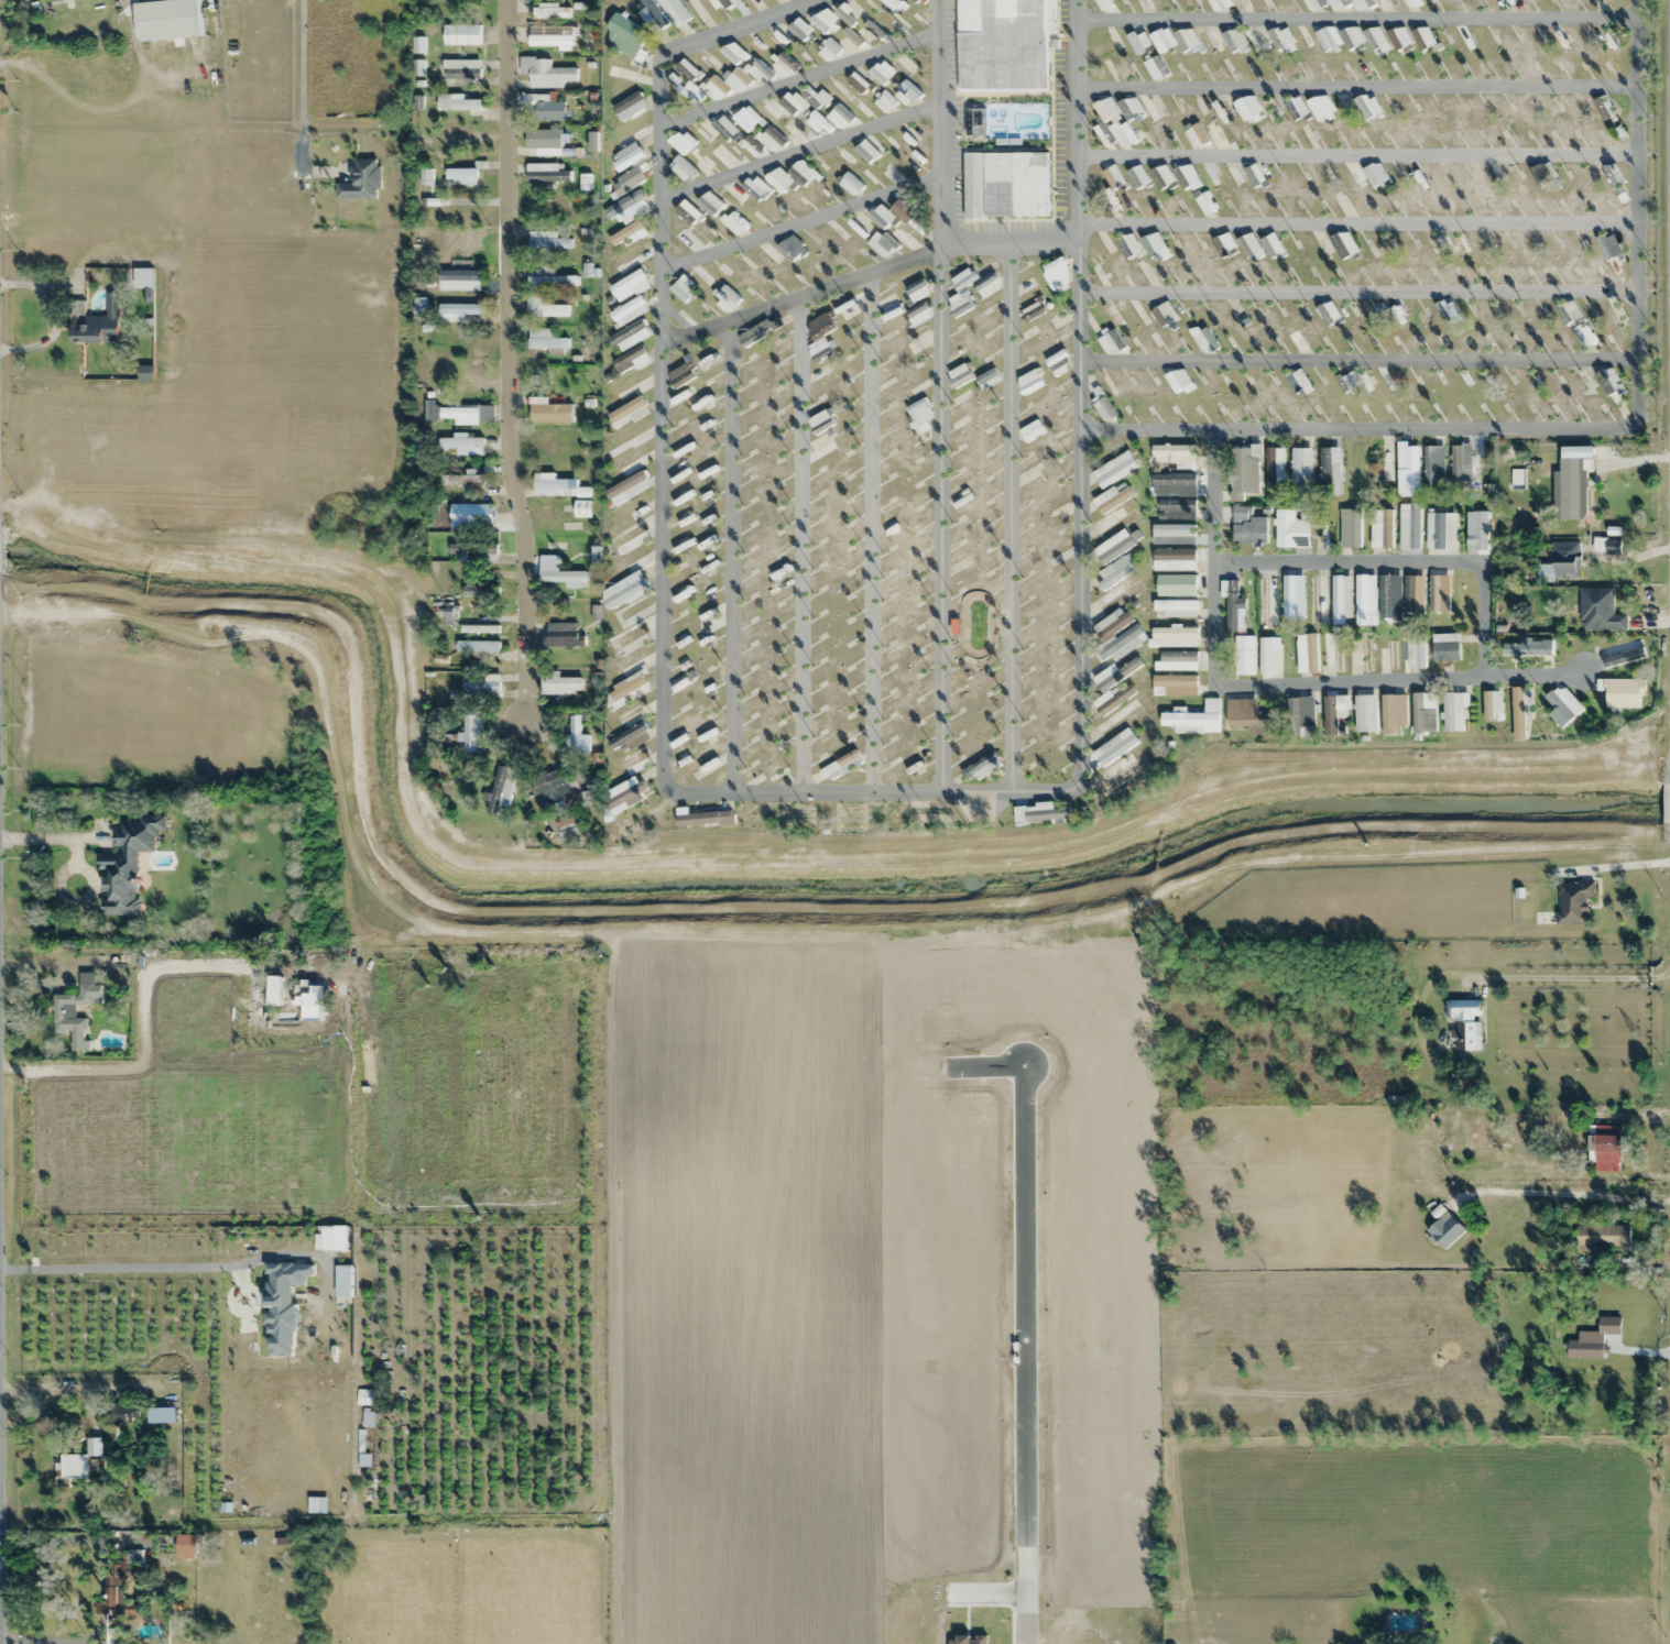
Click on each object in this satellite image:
building: (64, 0)
building: (727, 3)
building: (895, 3)
building: (1150, 3)
building: (1269, 3)
building: (1411, 3)
building: (1104, 4)
building: (1219, 4)
building: (1246, 4)
building: (1313, 4)
building: (1349, 4)
building: (1385, 4)
building: (703, 6)
building: (870, 8)
building: (550, 11)
building: (652, 15)
road: (1356, 15)
building: (167, 19)
building: (823, 22)
road: (741, 26)
building: (799, 29)
building: (874, 32)
building: (461, 34)
building: (552, 35)
building: (626, 35)
building: (777, 36)
building: (1351, 36)
building: (1400, 36)
building: (1210, 37)
building: (1256, 37)
building: (1423, 37)
building: (1290, 39)
building: (1375, 39)
building: (1163, 40)
building: (1190, 40)
building: (1324, 40)
building: (1134, 41)
building: (1234, 41)
building: (850, 42)
building: (1003, 45)
building: (755, 46)
building: (828, 50)
building: (733, 52)
building: (786, 63)
building: (903, 65)
building: (460, 68)
building: (620, 68)
building: (1156, 68)
building: (545, 73)
building: (878, 74)
road: (800, 78)
building: (735, 81)
building: (856, 81)
road: (1356, 86)
building: (713, 89)
building: (906, 95)
building: (821, 96)
building: (794, 100)
building: (456, 101)
building: (885, 101)
building: (629, 106)
building: (1366, 106)
building: (861, 107)
building: (1296, 107)
building: (1105, 108)
building: (1131, 108)
building: (1194, 108)
building: (1222, 108)
building: (1248, 108)
building: (548, 109)
building: (774, 109)
building: (1271, 109)
building: (1319, 109)
building: (750, 116)
building: (840, 117)
building: (817, 123)
building: (702, 132)
building: (1123, 135)
building: (1219, 135)
building: (1193, 136)
building: (544, 139)
building: (771, 140)
building: (680, 143)
building: (629, 144)
road: (801, 150)
building: (866, 151)
building: (725, 154)
road: (1357, 156)
building: (706, 161)
building: (681, 169)
building: (806, 171)
building: (546, 173)
building: (1542, 173)
building: (1613, 173)
building: (1186, 174)
building: (1352, 174)
building: (1376, 174)
building: (1493, 174)
building: (1163, 175)
building: (1232, 175)
building: (1255, 175)
building: (1137, 176)
building: (1207, 176)
building: (424, 177)
building: (461, 177)
building: (1325, 177)
building: (778, 179)
building: (361, 180)
building: (627, 180)
building: (585, 182)
building: (850, 184)
building: (1005, 185)
building: (755, 187)
building: (732, 194)
building: (710, 204)
building: (1204, 204)
building: (626, 208)
building: (902, 210)
building: (686, 211)
building: (881, 216)
road: (1636, 216)
road: (801, 221)
road: (1357, 221)
building: (733, 223)
building: (625, 234)
building: (905, 235)
building: (549, 239)
building: (690, 241)
building: (1226, 241)
building: (1156, 242)
building: (881, 243)
building: (1343, 244)
building: (1128, 245)
building: (1248, 245)
building: (1273, 245)
building: (1437, 246)
building: (1608, 246)
building: (792, 248)
building: (768, 255)
building: (627, 260)
building: (588, 268)
road: (867, 271)
building: (1102, 273)
building: (1057, 274)
building: (1150, 274)
building: (549, 277)
building: (702, 278)
building: (459, 280)
building: (629, 285)
building: (986, 285)
building: (681, 287)
building: (916, 289)
road: (1357, 289)
building: (960, 293)
building: (725, 298)
building: (847, 307)
building: (889, 308)
building: (546, 309)
building: (627, 310)
building: (1032, 310)
building: (1569, 311)
building: (459, 313)
building: (1135, 313)
building: (1329, 313)
building: (1612, 313)
building: (918, 314)
building: (1164, 314)
building: (97, 322)
building: (760, 330)
building: (819, 335)
building: (1583, 335)
building: (629, 336)
building: (1032, 337)
building: (919, 339)
building: (545, 340)
building: (1110, 340)
building: (1299, 340)
building: (1204, 341)
road: (506, 359)
building: (631, 360)
building: (1056, 361)
road: (1357, 361)
building: (692, 366)
building: (820, 375)
building: (959, 375)
building: (987, 379)
building: (1178, 380)
building: (1583, 380)
building: (1029, 382)
building: (1299, 382)
building: (1350, 382)
building: (1612, 385)
building: (627, 387)
road: (1079, 394)
road: (940, 395)
building: (681, 399)
building: (1104, 410)
building: (457, 412)
building: (918, 412)
building: (552, 413)
building: (627, 413)
road: (662, 418)
building: (821, 420)
building: (1030, 430)
road: (1357, 430)
building: (625, 439)
building: (460, 442)
building: (1174, 452)
building: (632, 460)
building: (1461, 462)
building: (1380, 463)
building: (1434, 463)
building: (1275, 467)
building: (1301, 469)
building: (1407, 469)
building: (1245, 470)
building: (1331, 471)
building: (1029, 478)
building: (461, 480)
building: (1174, 484)
building: (554, 485)
building: (626, 487)
building: (1572, 487)
building: (582, 508)
building: (1177, 509)
building: (630, 511)
building: (1113, 511)
building: (472, 512)
road: (1009, 517)
building: (1248, 526)
building: (1409, 526)
building: (1350, 528)
building: (1290, 529)
building: (1382, 529)
road: (869, 530)
building: (1476, 530)
building: (1440, 531)
building: (1320, 533)
building: (1174, 534)
building: (630, 538)
road: (798, 542)
building: (473, 551)
road: (730, 555)
building: (1055, 557)
building: (630, 558)
building: (1174, 559)
building: (1564, 559)
road: (1400, 563)
building: (559, 573)
building: (1176, 584)
building: (625, 589)
building: (479, 591)
building: (1414, 593)
building: (1439, 594)
building: (1292, 596)
building: (1389, 596)
building: (1116, 599)
building: (1317, 599)
building: (1341, 599)
building: (1265, 600)
building: (1364, 600)
building: (1233, 605)
building: (1177, 607)
building: (1600, 610)
building: (479, 629)
building: (629, 631)
building: (564, 635)
building: (1176, 637)
building: (1121, 645)
building: (477, 646)
building: (1445, 647)
building: (1527, 648)
building: (1415, 650)
building: (1332, 653)
building: (1620, 653)
building: (1307, 654)
building: (1244, 655)
building: (1388, 655)
building: (1268, 656)
building: (1178, 660)
building: (559, 683)
building: (1180, 684)
road: (1267, 686)
building: (482, 688)
building: (1623, 692)
building: (1116, 702)
building: (1492, 705)
building: (1562, 705)
building: (1454, 709)
building: (1423, 712)
building: (1333, 713)
building: (1365, 713)
building: (1520, 713)
building: (1299, 714)
building: (1394, 714)
building: (1249, 716)
building: (1194, 720)
building: (576, 736)
building: (630, 738)
building: (1114, 747)
building: (633, 763)
building: (983, 767)
building: (775, 769)
building: (552, 783)
building: (501, 789)
road: (866, 791)
building: (1040, 814)
building: (705, 819)
building: (127, 863)
building: (1574, 901)
building: (273, 989)
building: (64, 1010)
building: (1465, 1022)
building: (1395, 1098)
building: (1483, 1139)
building: (1606, 1150)
building: (1444, 1227)
building: (1601, 1237)
crop: (927, 1301)
building: (1596, 1338)
road: (1026, 1352)
building: (123, 1414)
building: (160, 1415)
building: (78, 1461)
building: (119, 1593)

